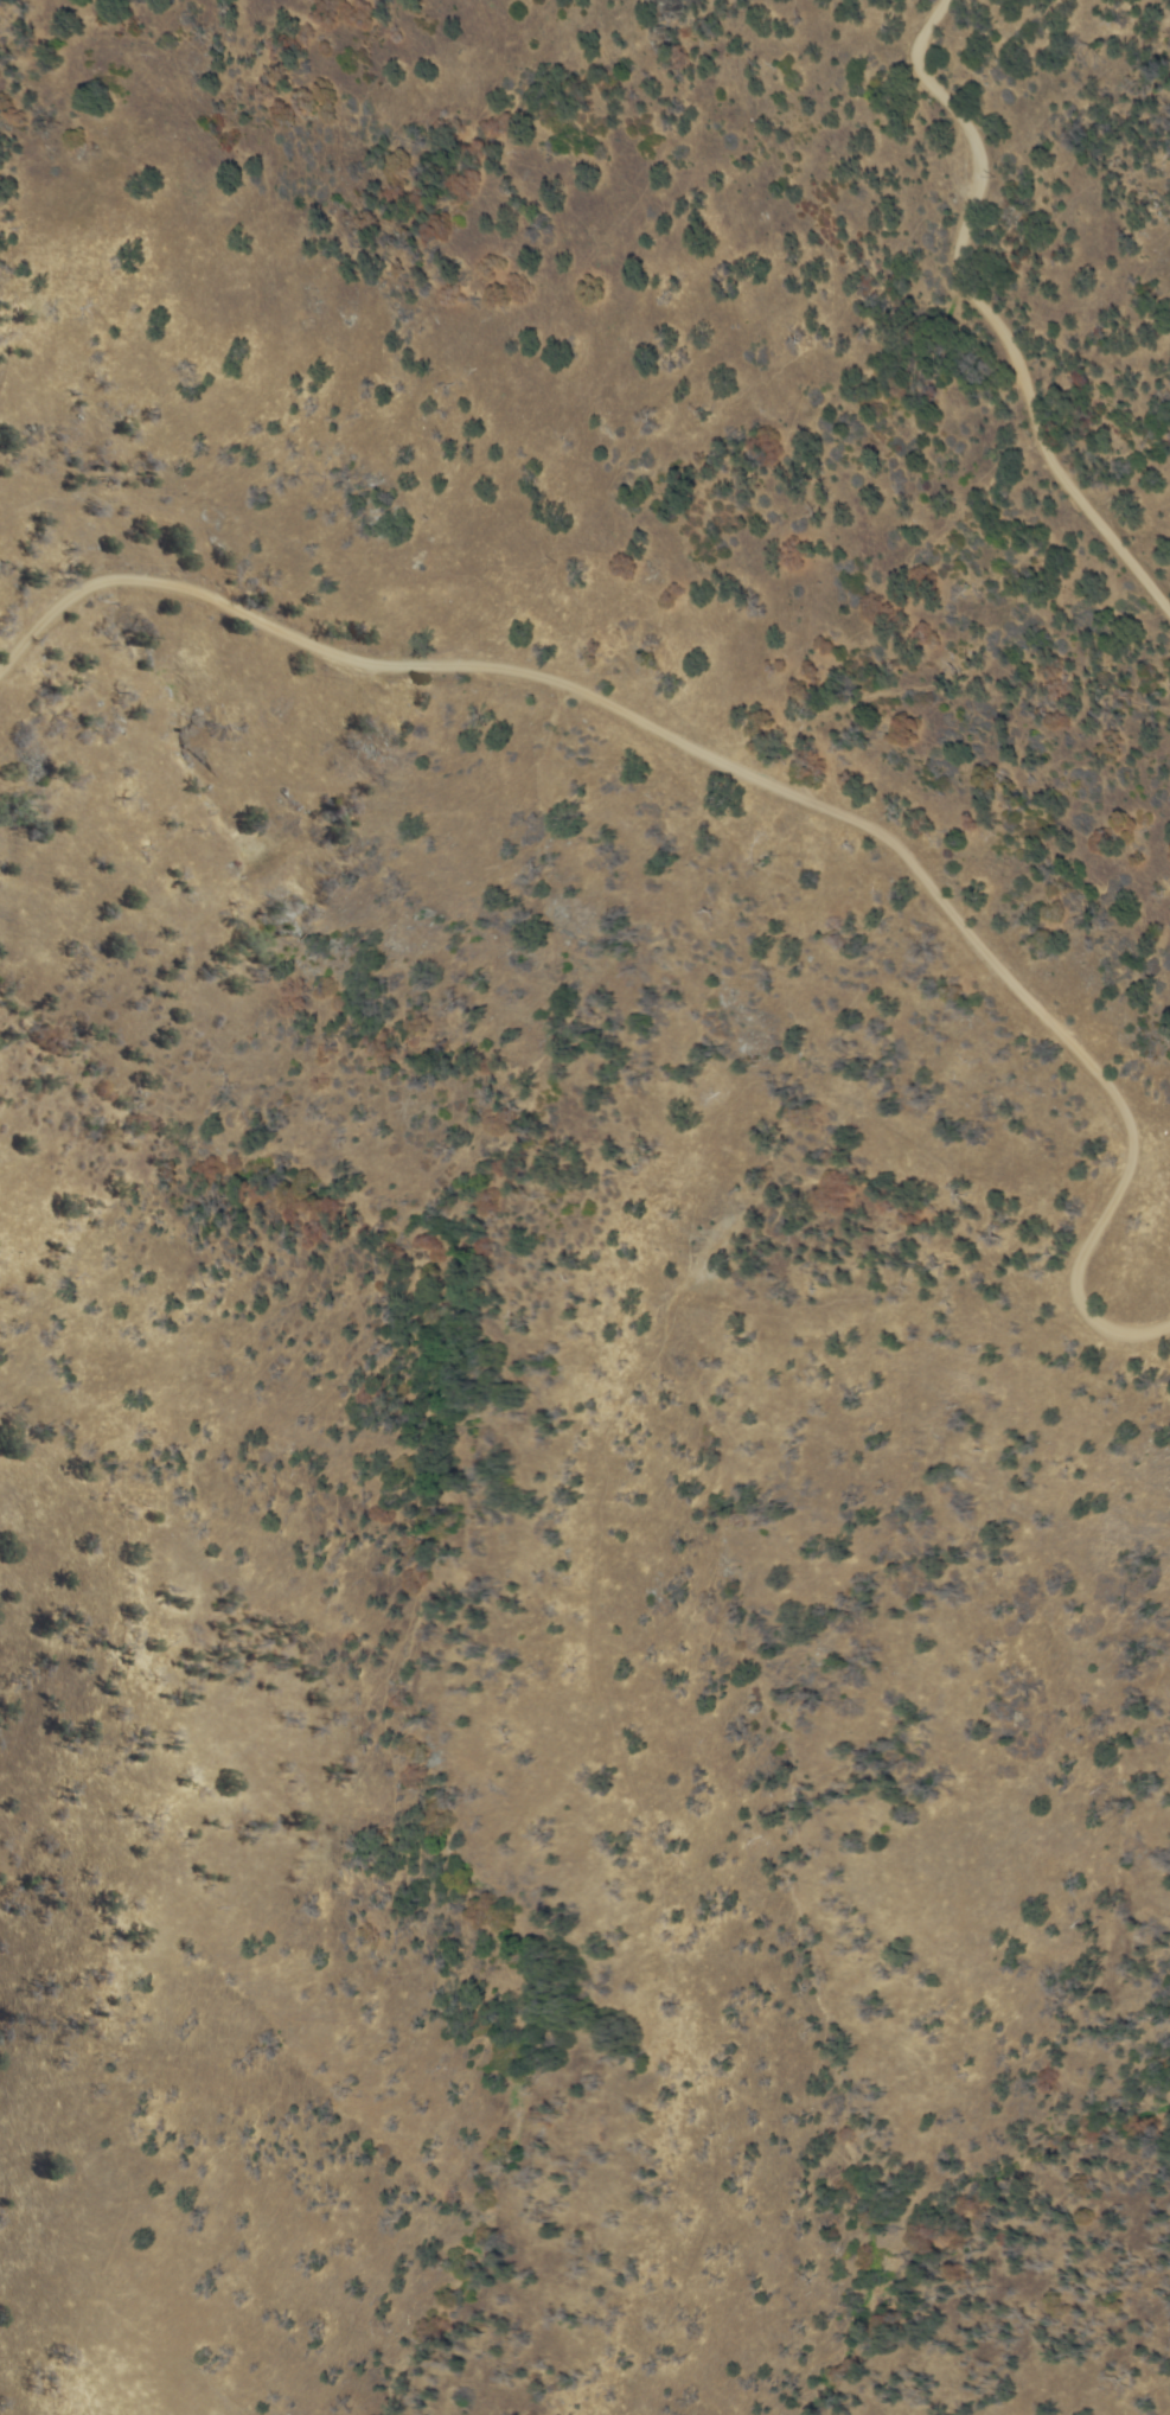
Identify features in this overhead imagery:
road: (990, 317)
road: (748, 773)

